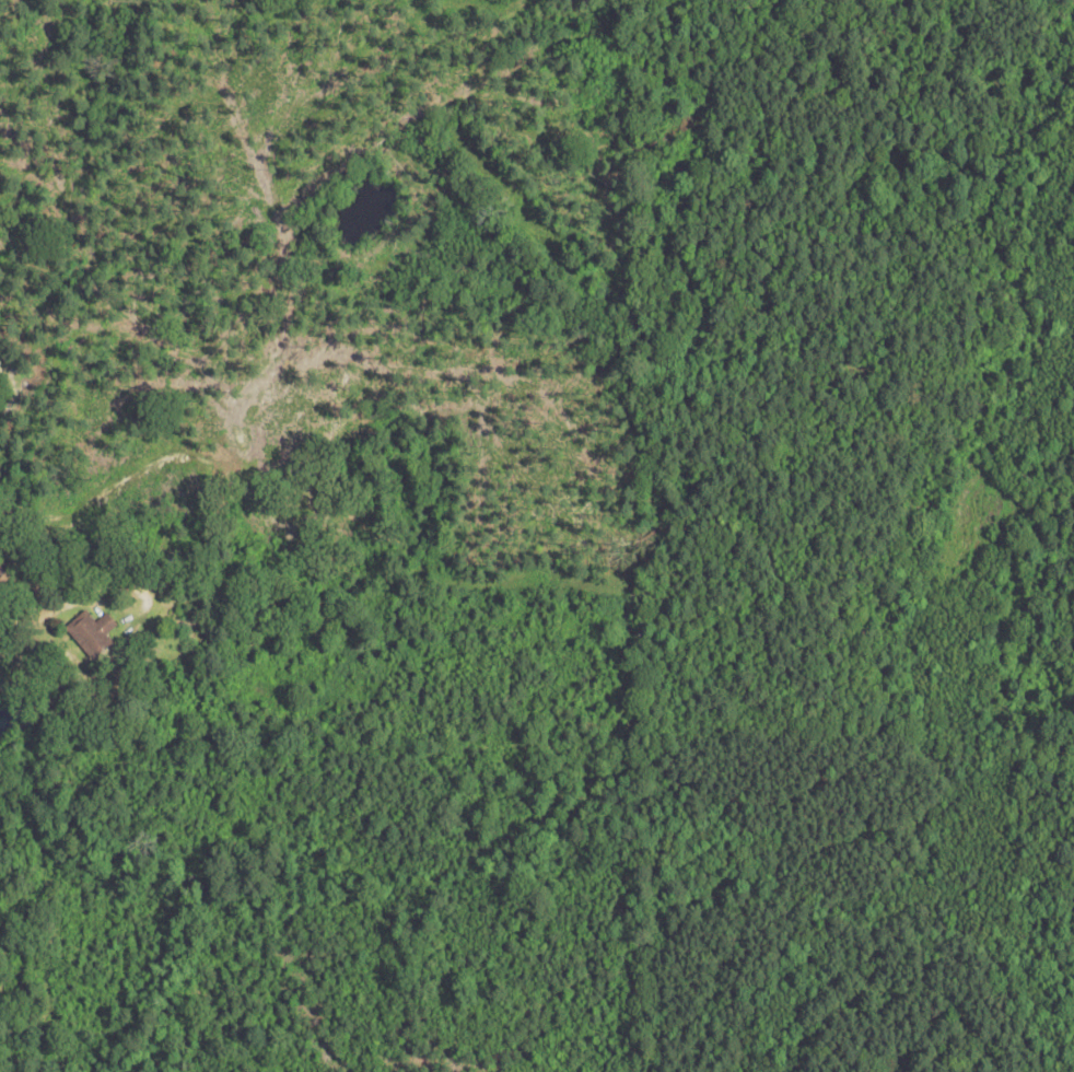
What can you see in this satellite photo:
building: (4, 573)
building: (94, 633)

